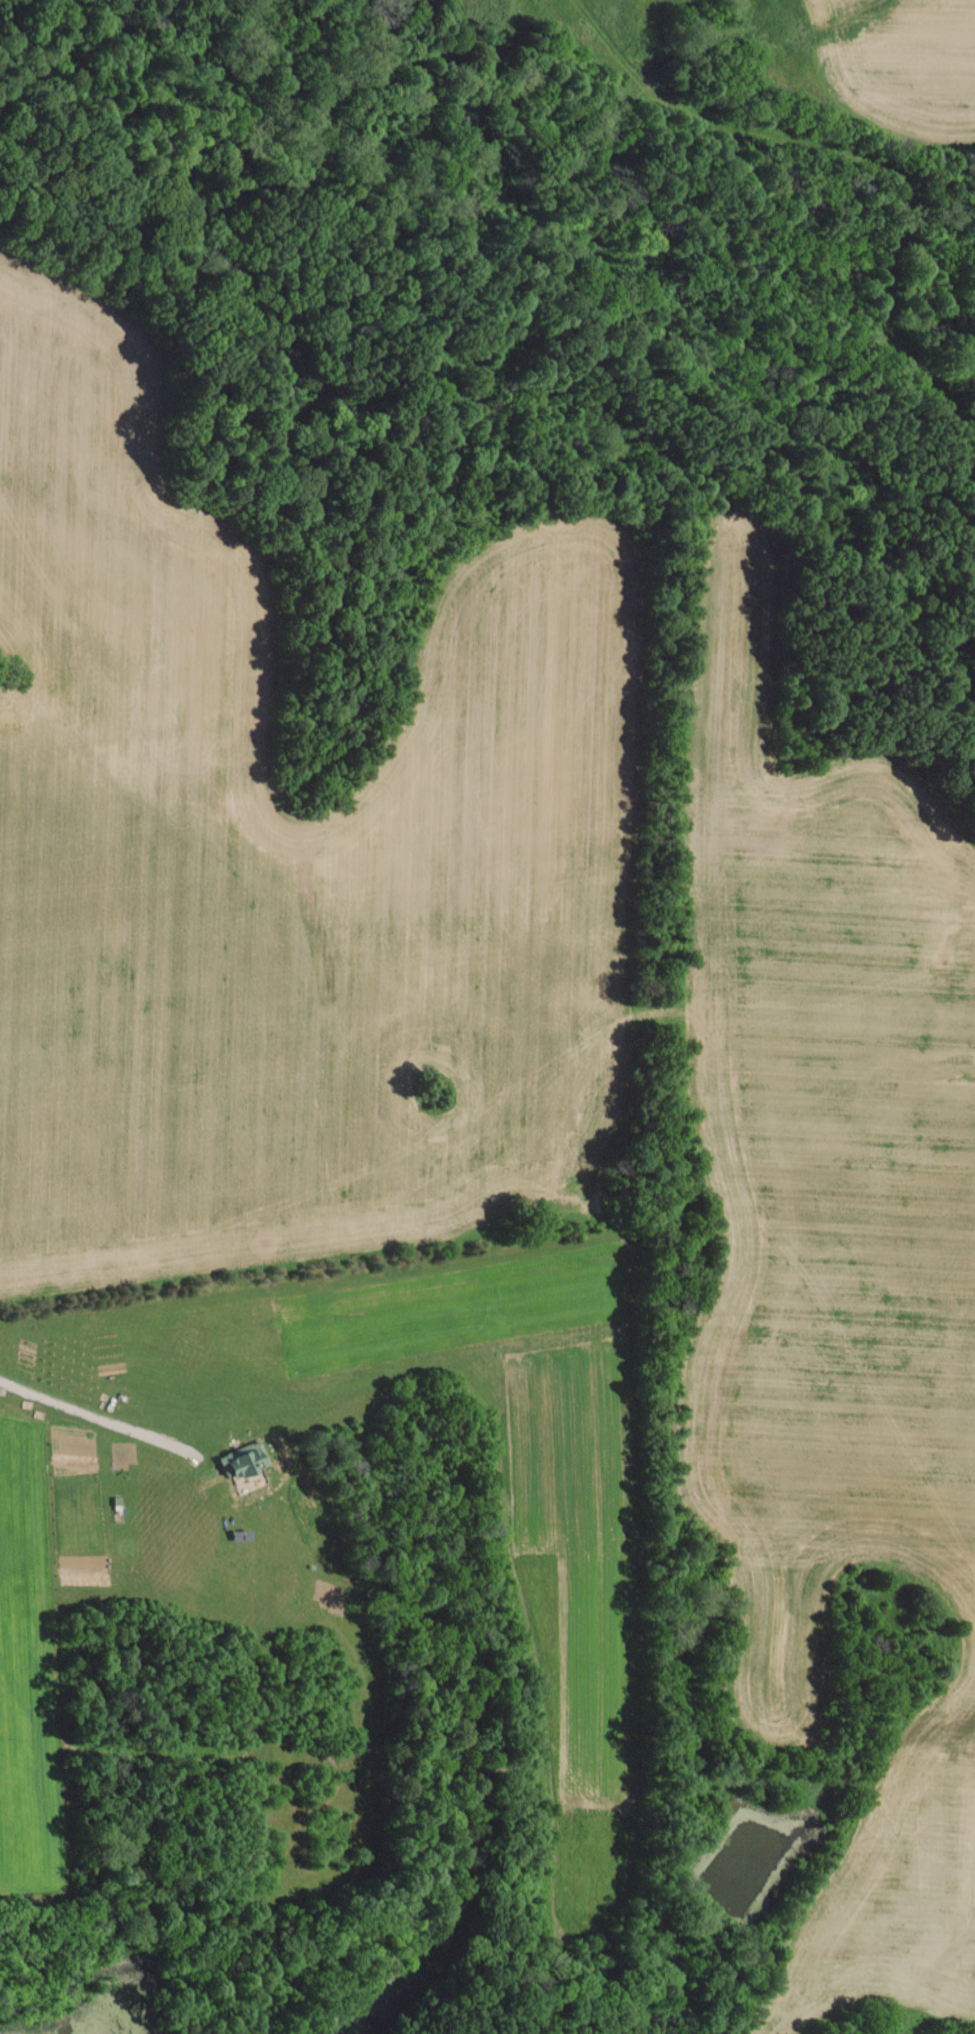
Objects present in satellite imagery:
road: (93, 1417)

